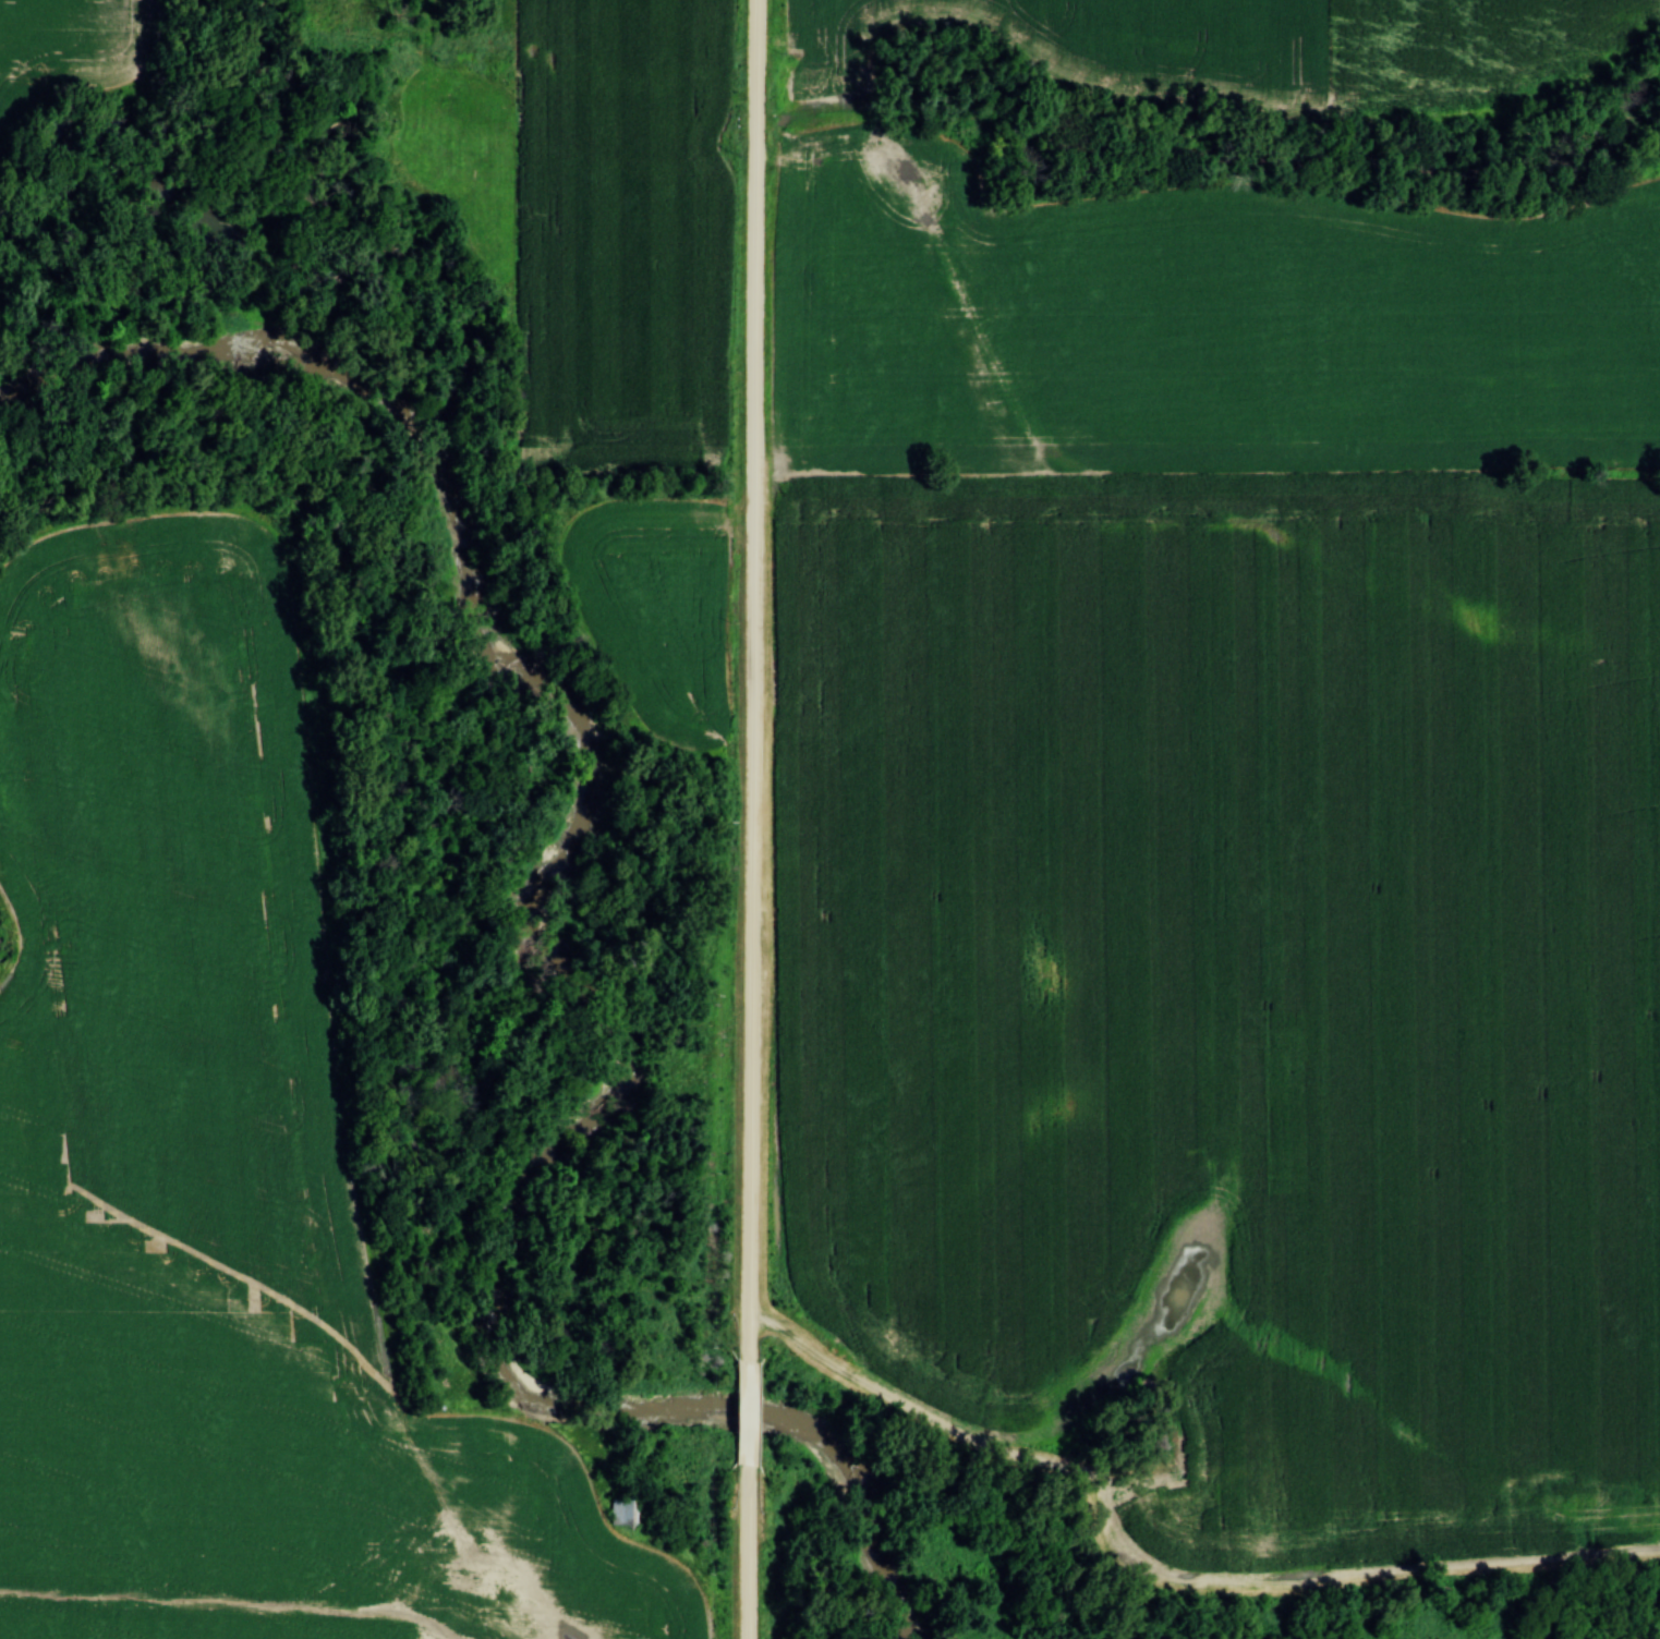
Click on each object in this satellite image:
road: (754, 680)
road: (744, 1415)
building: (619, 1514)
road: (744, 1554)

